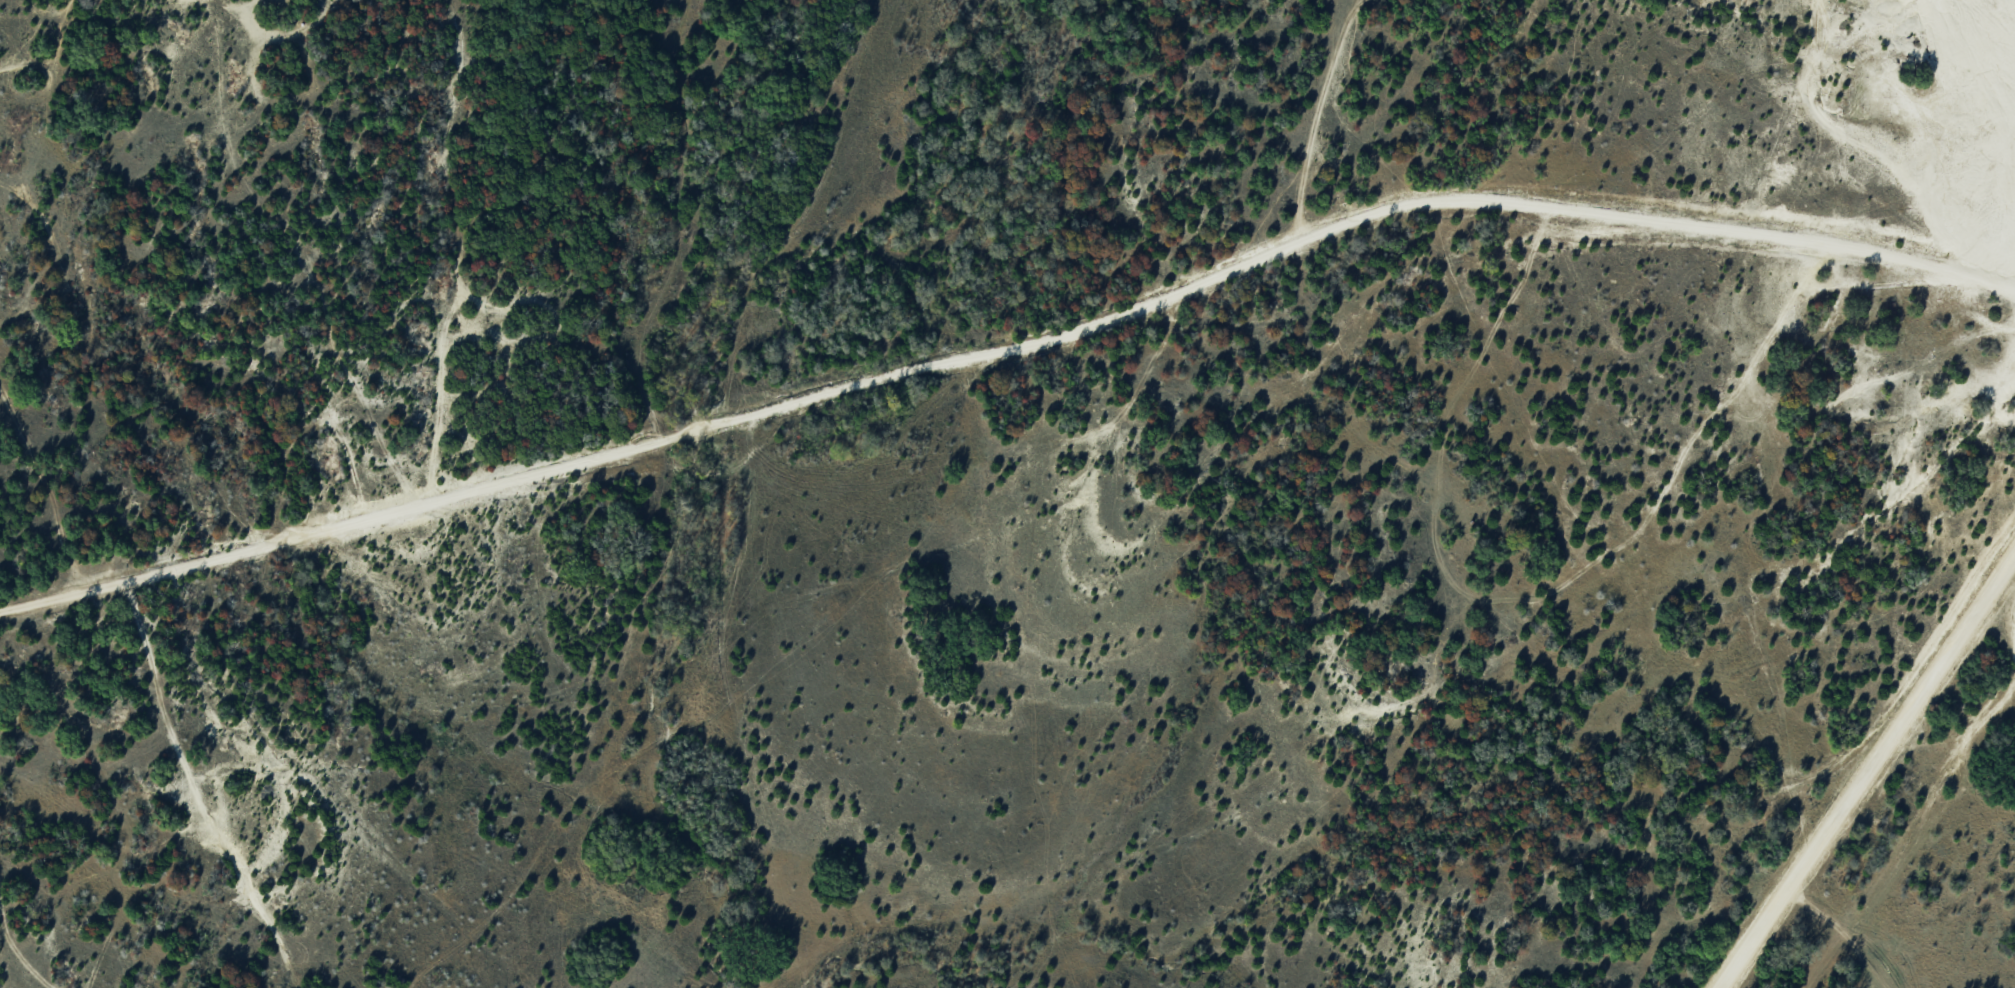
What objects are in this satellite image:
road: (1866, 768)

